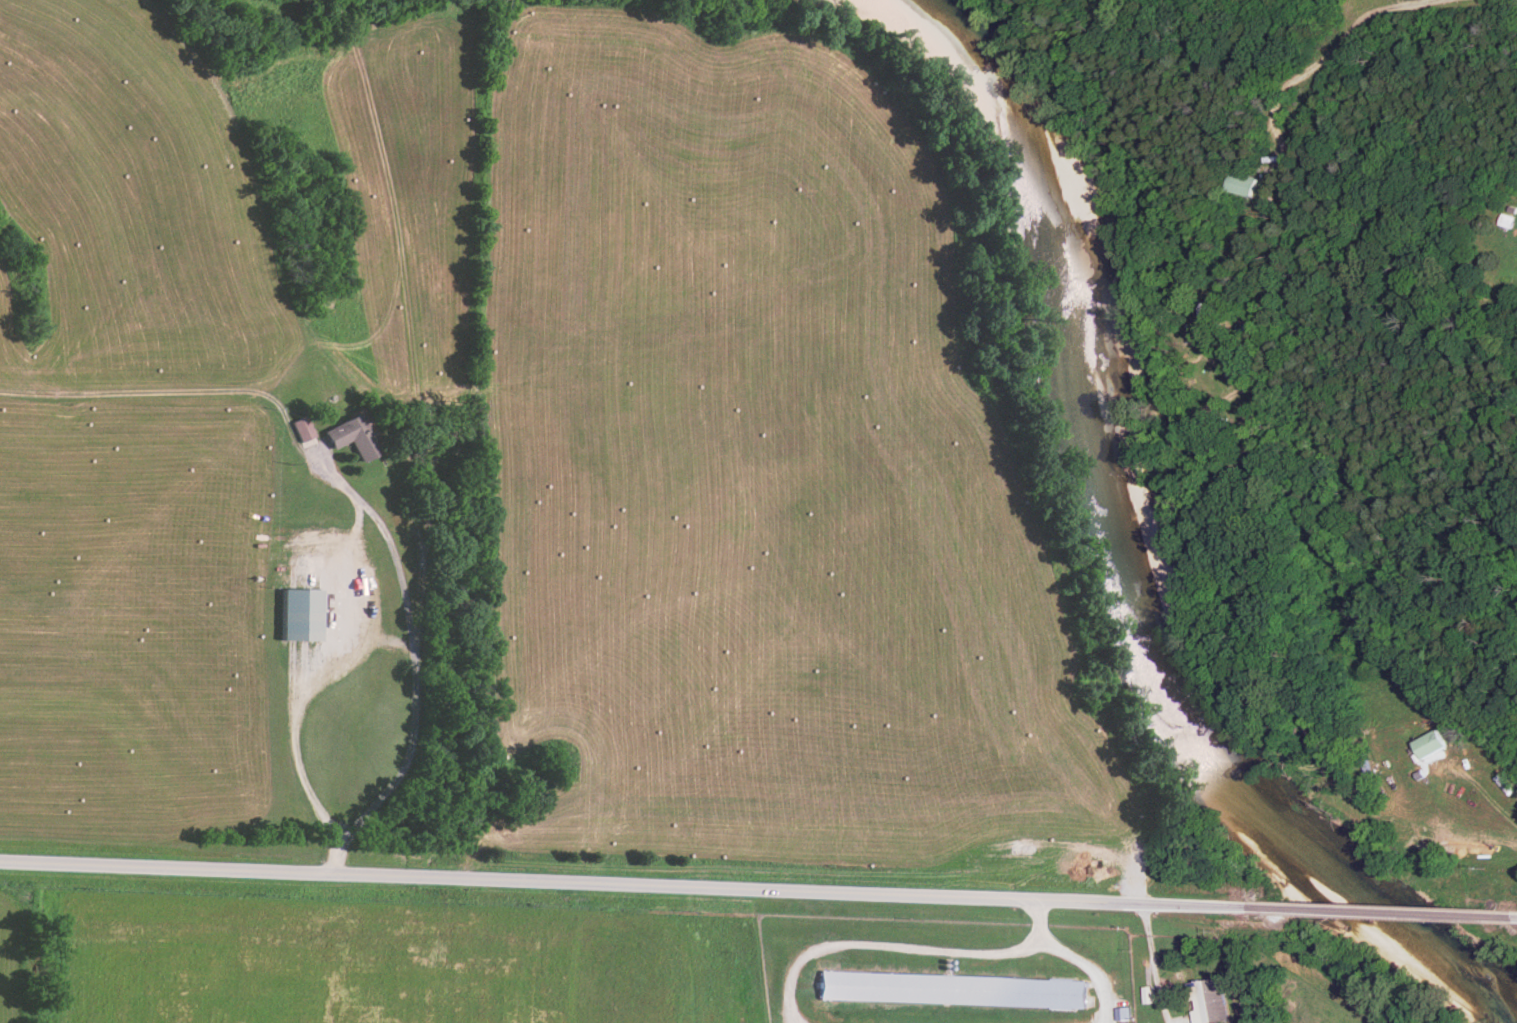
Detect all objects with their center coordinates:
road: (1513, 2)
building: (1242, 183)
building: (301, 429)
building: (345, 439)
river: (1154, 533)
building: (298, 615)
road: (412, 659)
road: (307, 701)
building: (1425, 744)
road: (627, 884)
road: (1386, 912)
road: (1075, 957)
building: (952, 990)
building: (1123, 1013)
road: (1181, 1021)

